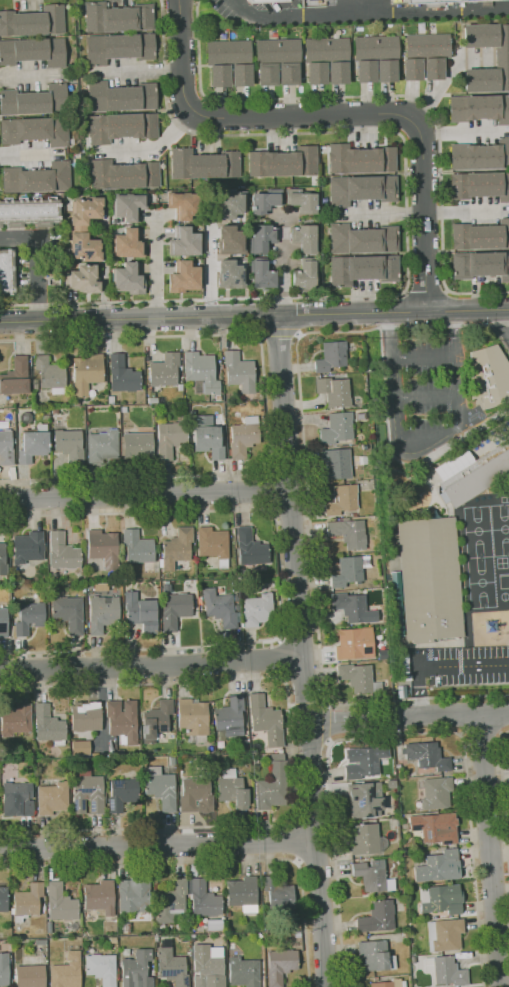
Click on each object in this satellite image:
building: (346, 4)
road: (369, 14)
building: (116, 17)
building: (33, 21)
building: (117, 47)
building: (32, 51)
building: (423, 56)
building: (501, 57)
building: (224, 58)
building: (273, 58)
building: (374, 58)
building: (325, 60)
road: (142, 72)
building: (287, 73)
building: (240, 74)
road: (392, 95)
building: (119, 96)
building: (34, 100)
building: (479, 108)
road: (344, 115)
building: (120, 127)
building: (34, 130)
road: (461, 131)
road: (301, 132)
road: (158, 147)
building: (480, 155)
building: (359, 159)
building: (283, 162)
building: (202, 164)
building: (122, 174)
building: (36, 178)
building: (480, 185)
building: (360, 189)
building: (264, 200)
building: (300, 200)
building: (181, 204)
building: (229, 205)
building: (126, 206)
building: (28, 212)
road: (425, 213)
building: (83, 228)
building: (480, 235)
building: (260, 237)
building: (303, 237)
building: (361, 239)
building: (228, 240)
building: (184, 242)
building: (125, 243)
road: (36, 259)
building: (481, 265)
road: (284, 266)
road: (156, 267)
road: (209, 268)
road: (105, 269)
building: (361, 269)
building: (6, 270)
building: (229, 274)
building: (261, 274)
building: (303, 275)
building: (183, 277)
building: (80, 279)
building: (126, 279)
road: (445, 290)
road: (404, 291)
road: (424, 291)
road: (201, 299)
road: (505, 311)
road: (479, 312)
road: (408, 313)
road: (442, 313)
road: (193, 318)
road: (505, 318)
road: (403, 326)
road: (277, 331)
road: (457, 333)
road: (297, 334)
road: (388, 335)
road: (423, 355)
building: (332, 356)
building: (164, 370)
building: (201, 372)
building: (240, 372)
building: (87, 373)
building: (50, 375)
building: (123, 375)
road: (458, 375)
building: (490, 376)
building: (15, 377)
road: (449, 381)
parking lot: (421, 383)
building: (35, 385)
building: (334, 391)
road: (425, 396)
building: (111, 399)
building: (153, 400)
building: (78, 403)
road: (266, 408)
building: (56, 410)
building: (46, 416)
building: (26, 417)
road: (301, 419)
building: (8, 421)
building: (337, 428)
building: (244, 436)
building: (171, 437)
building: (209, 441)
building: (34, 444)
building: (70, 445)
building: (103, 446)
building: (139, 447)
building: (6, 448)
road: (401, 449)
building: (337, 463)
building: (476, 476)
road: (271, 492)
road: (144, 495)
building: (342, 499)
building: (354, 514)
park: (500, 528)
park: (477, 531)
building: (349, 532)
building: (214, 545)
building: (28, 547)
building: (103, 547)
building: (177, 548)
building: (251, 548)
building: (139, 549)
building: (63, 552)
building: (2, 560)
building: (349, 570)
building: (430, 578)
road: (278, 580)
park: (480, 581)
building: (98, 587)
building: (167, 587)
building: (200, 600)
building: (398, 603)
building: (221, 608)
building: (353, 608)
building: (175, 610)
building: (257, 610)
building: (69, 613)
building: (102, 613)
building: (141, 613)
building: (30, 618)
building: (4, 622)
building: (354, 643)
road: (302, 651)
road: (283, 658)
building: (404, 663)
road: (439, 666)
road: (151, 667)
parking lot: (459, 670)
building: (407, 677)
building: (359, 678)
road: (322, 695)
road: (465, 715)
building: (86, 716)
building: (229, 717)
building: (16, 719)
building: (193, 719)
building: (123, 720)
building: (156, 720)
building: (265, 720)
road: (364, 720)
road: (328, 724)
building: (49, 725)
road: (399, 736)
building: (81, 749)
building: (281, 751)
road: (291, 755)
building: (428, 756)
building: (172, 760)
building: (364, 761)
building: (75, 762)
building: (386, 776)
building: (273, 784)
building: (391, 784)
building: (161, 787)
building: (232, 789)
building: (88, 792)
building: (436, 793)
building: (122, 794)
building: (197, 794)
road: (503, 797)
building: (52, 798)
building: (17, 799)
building: (365, 799)
road: (313, 823)
building: (436, 827)
building: (367, 839)
road: (296, 842)
road: (157, 843)
road: (491, 851)
road: (316, 858)
road: (211, 861)
building: (439, 867)
building: (373, 876)
building: (279, 893)
building: (243, 894)
building: (134, 895)
building: (100, 897)
building: (3, 899)
building: (442, 899)
building: (204, 900)
building: (171, 901)
building: (27, 902)
building: (61, 903)
building: (228, 914)
building: (377, 917)
building: (179, 924)
building: (214, 925)
building: (49, 928)
building: (161, 928)
building: (445, 934)
building: (298, 935)
building: (259, 936)
building: (156, 938)
building: (41, 942)
building: (231, 946)
building: (126, 952)
building: (376, 955)
building: (171, 965)
building: (280, 965)
building: (208, 966)
building: (101, 968)
building: (4, 969)
building: (136, 969)
building: (67, 971)
building: (446, 971)
building: (244, 972)
building: (30, 976)
building: (376, 978)
building: (389, 983)

